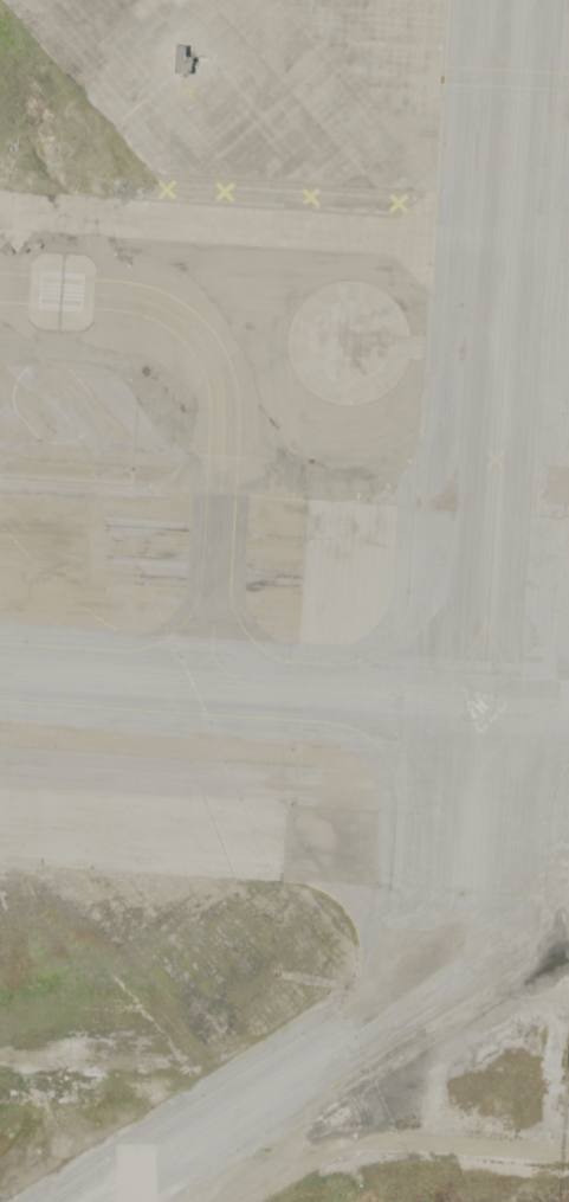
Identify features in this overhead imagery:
road: (400, 1143)

